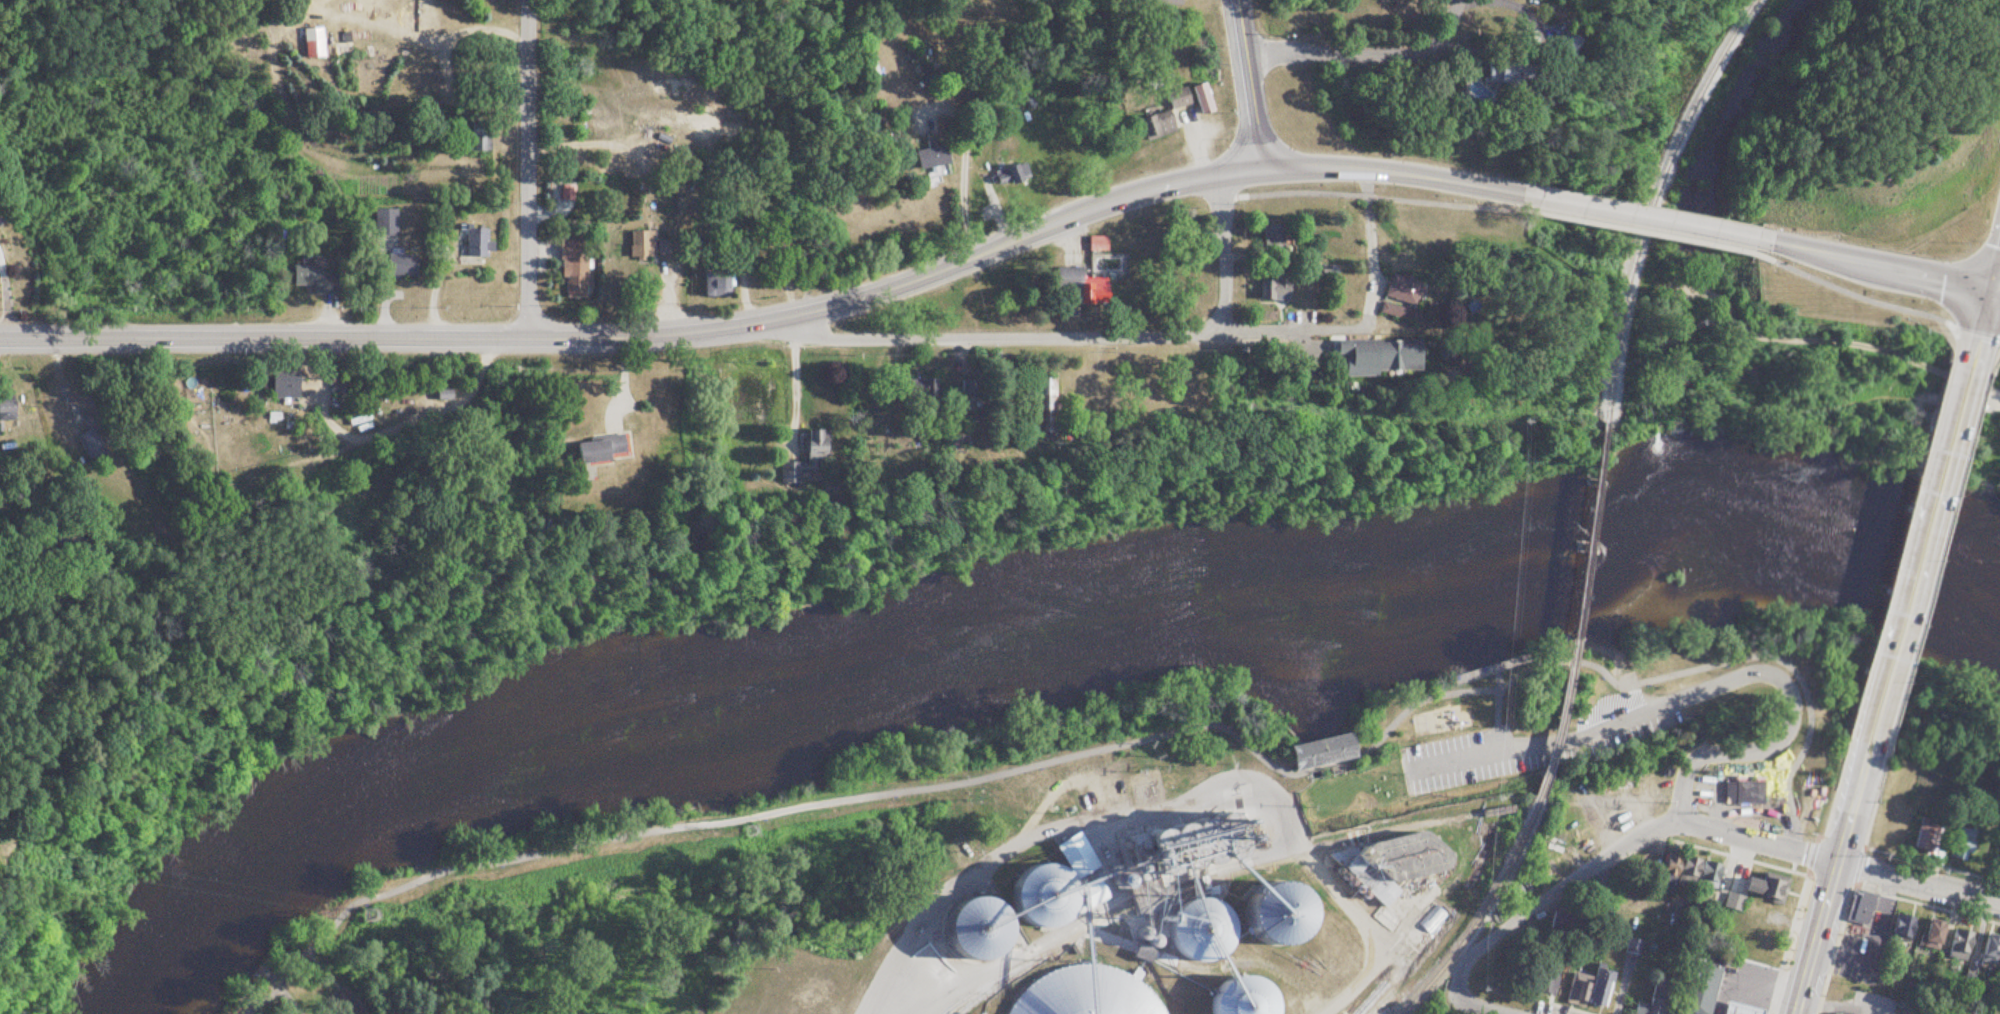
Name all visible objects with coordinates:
road: (1506, 41)
building: (311, 44)
road: (1361, 54)
building: (1523, 69)
road: (1242, 84)
building: (1178, 99)
building: (1202, 99)
road: (964, 160)
road: (525, 168)
building: (1007, 176)
road: (1132, 193)
road: (1375, 197)
railway: (1650, 201)
road: (1644, 217)
building: (384, 229)
road: (1641, 232)
building: (1273, 238)
building: (469, 246)
road: (1222, 253)
road: (1882, 267)
building: (574, 269)
road: (1995, 276)
road: (1371, 279)
building: (1278, 290)
building: (1406, 290)
traffic signals: (1991, 292)
road: (1995, 292)
road: (1865, 298)
road: (5, 310)
building: (1404, 312)
road: (1982, 327)
road: (1027, 335)
road: (383, 338)
building: (1411, 355)
building: (1688, 383)
building: (285, 388)
road: (790, 388)
building: (970, 388)
building: (337, 390)
building: (443, 396)
road: (1977, 396)
road: (1858, 405)
building: (7, 410)
building: (89, 447)
building: (606, 450)
building: (814, 456)
railway: (1582, 531)
road: (1919, 553)
river: (1029, 645)
railway: (1560, 675)
road: (1794, 698)
road: (1493, 723)
railway: (1547, 743)
park: (1444, 744)
road: (1109, 746)
road: (1519, 747)
building: (1327, 752)
parking lot: (1453, 761)
power tower: (965, 776)
building: (1742, 793)
road: (1701, 826)
power tower: (741, 831)
building: (1073, 863)
building: (1400, 866)
railway: (1224, 876)
road: (1830, 878)
road: (973, 879)
building: (1763, 886)
railway: (1487, 904)
power tower: (377, 917)
building: (1561, 924)
building: (1898, 926)
building: (980, 930)
building: (1744, 937)
building: (1943, 941)
building: (1988, 947)
railway: (993, 982)
building: (1699, 986)
building: (1598, 988)
railway: (1366, 997)
building: (1658, 998)
park: (299, 1000)
road: (1475, 1007)
building: (1740, 1008)
railway: (1375, 1009)

